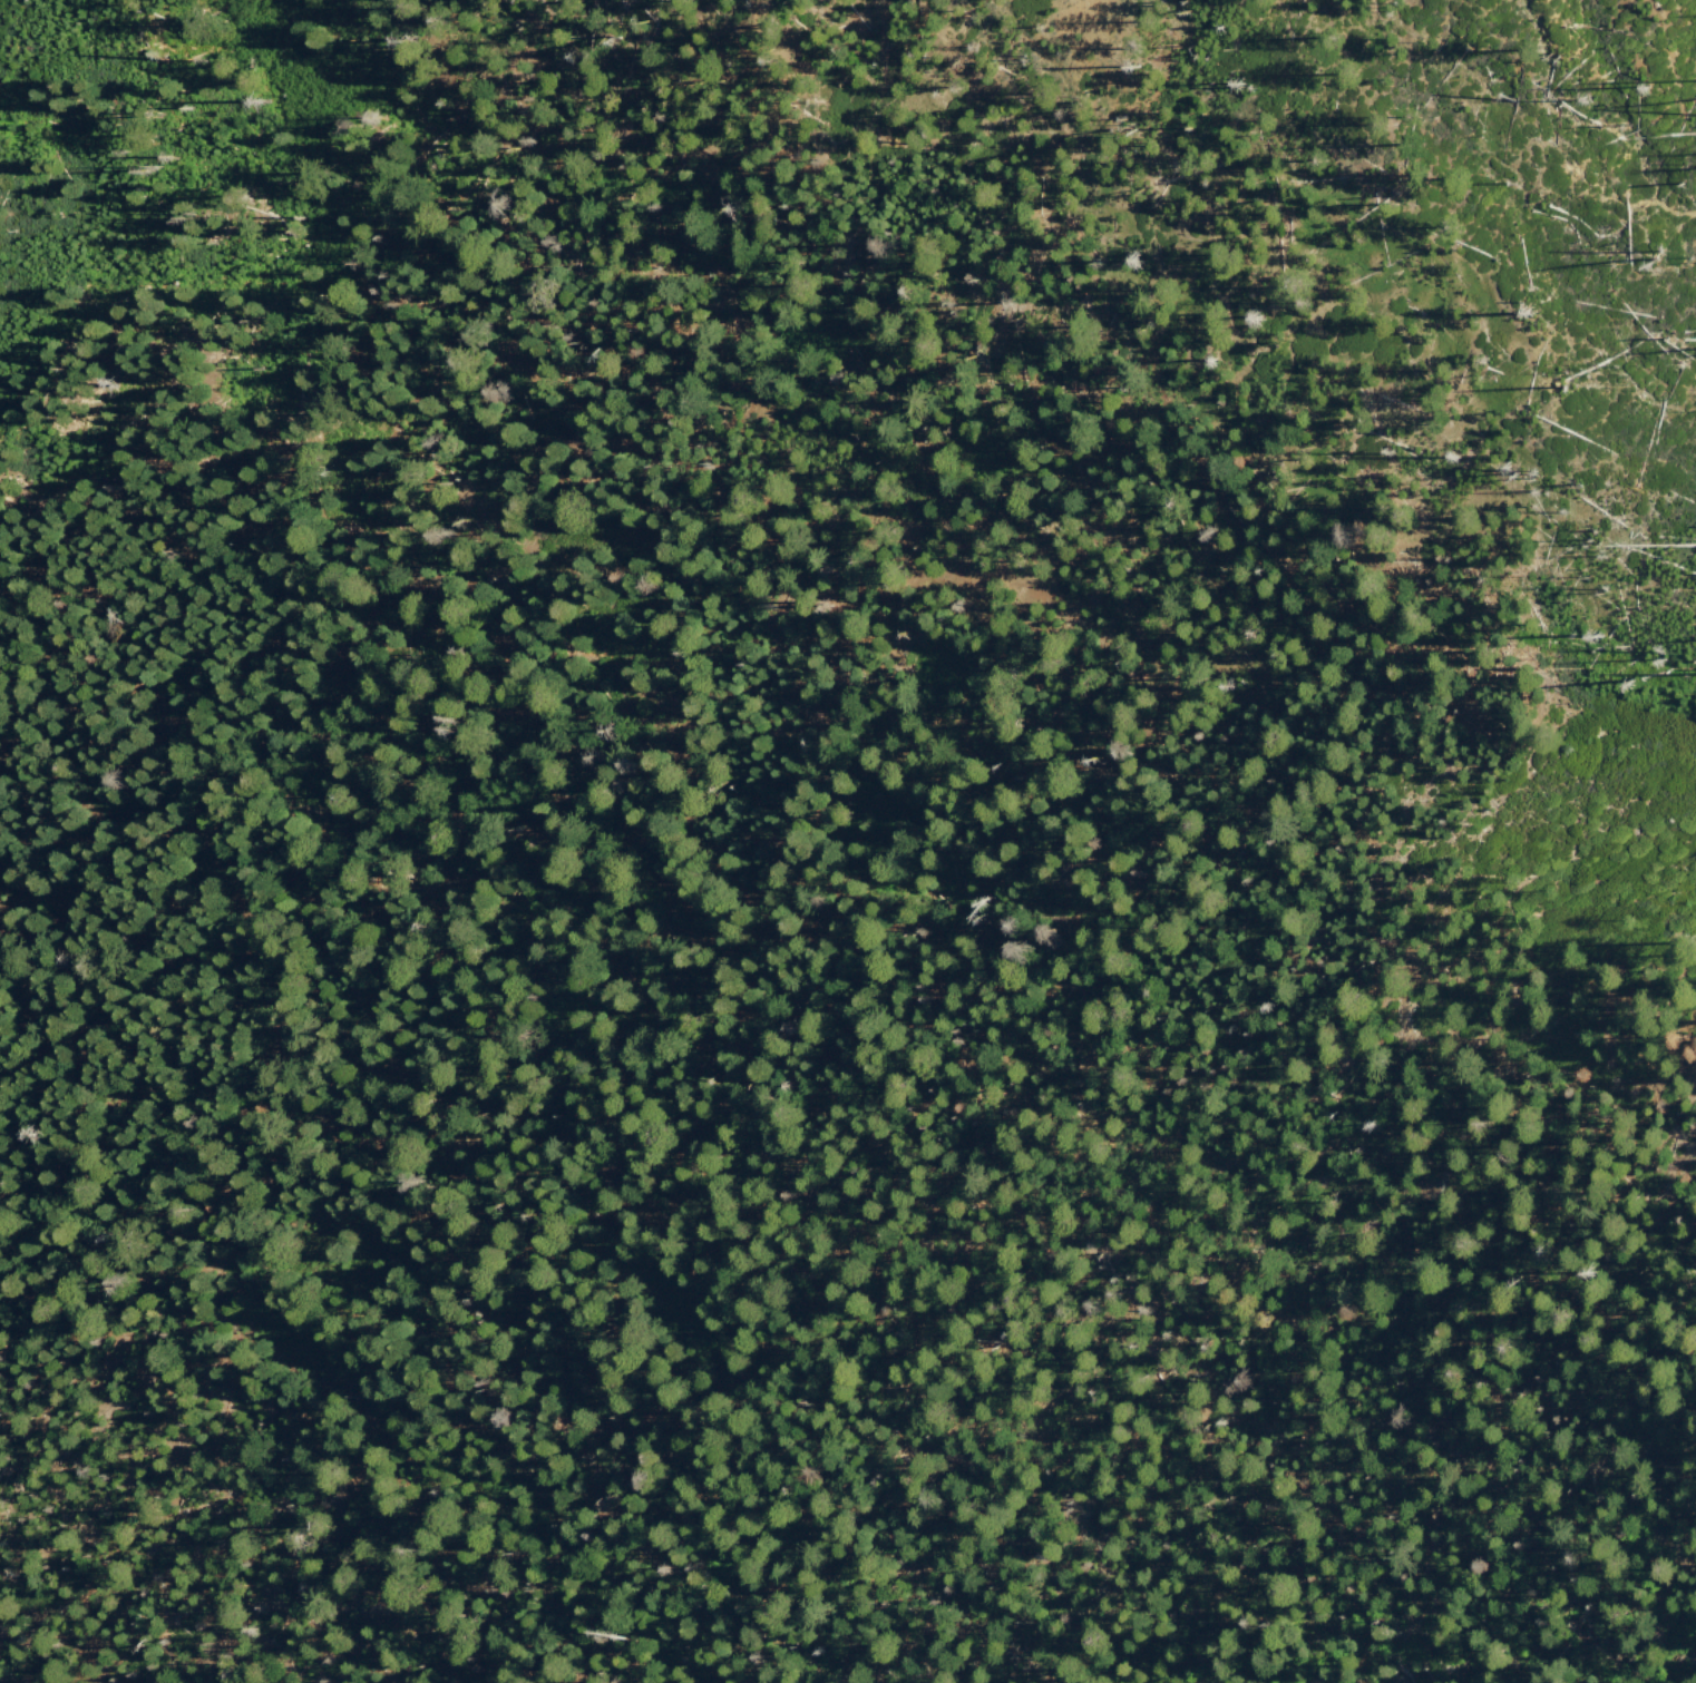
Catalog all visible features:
road: (1338, 1470)

